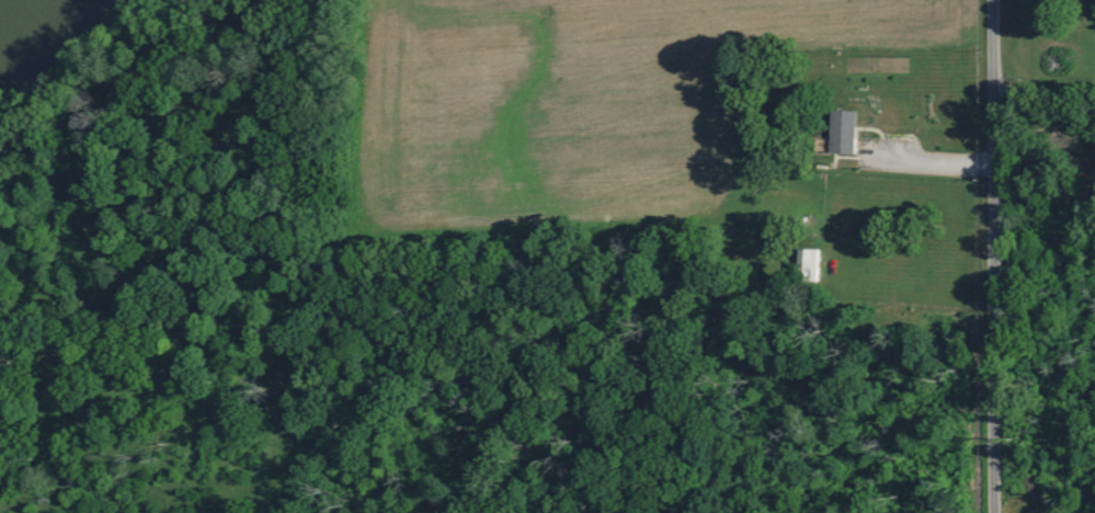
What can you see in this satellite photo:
road: (1043, 75)
building: (848, 133)
road: (926, 150)
road: (994, 255)

